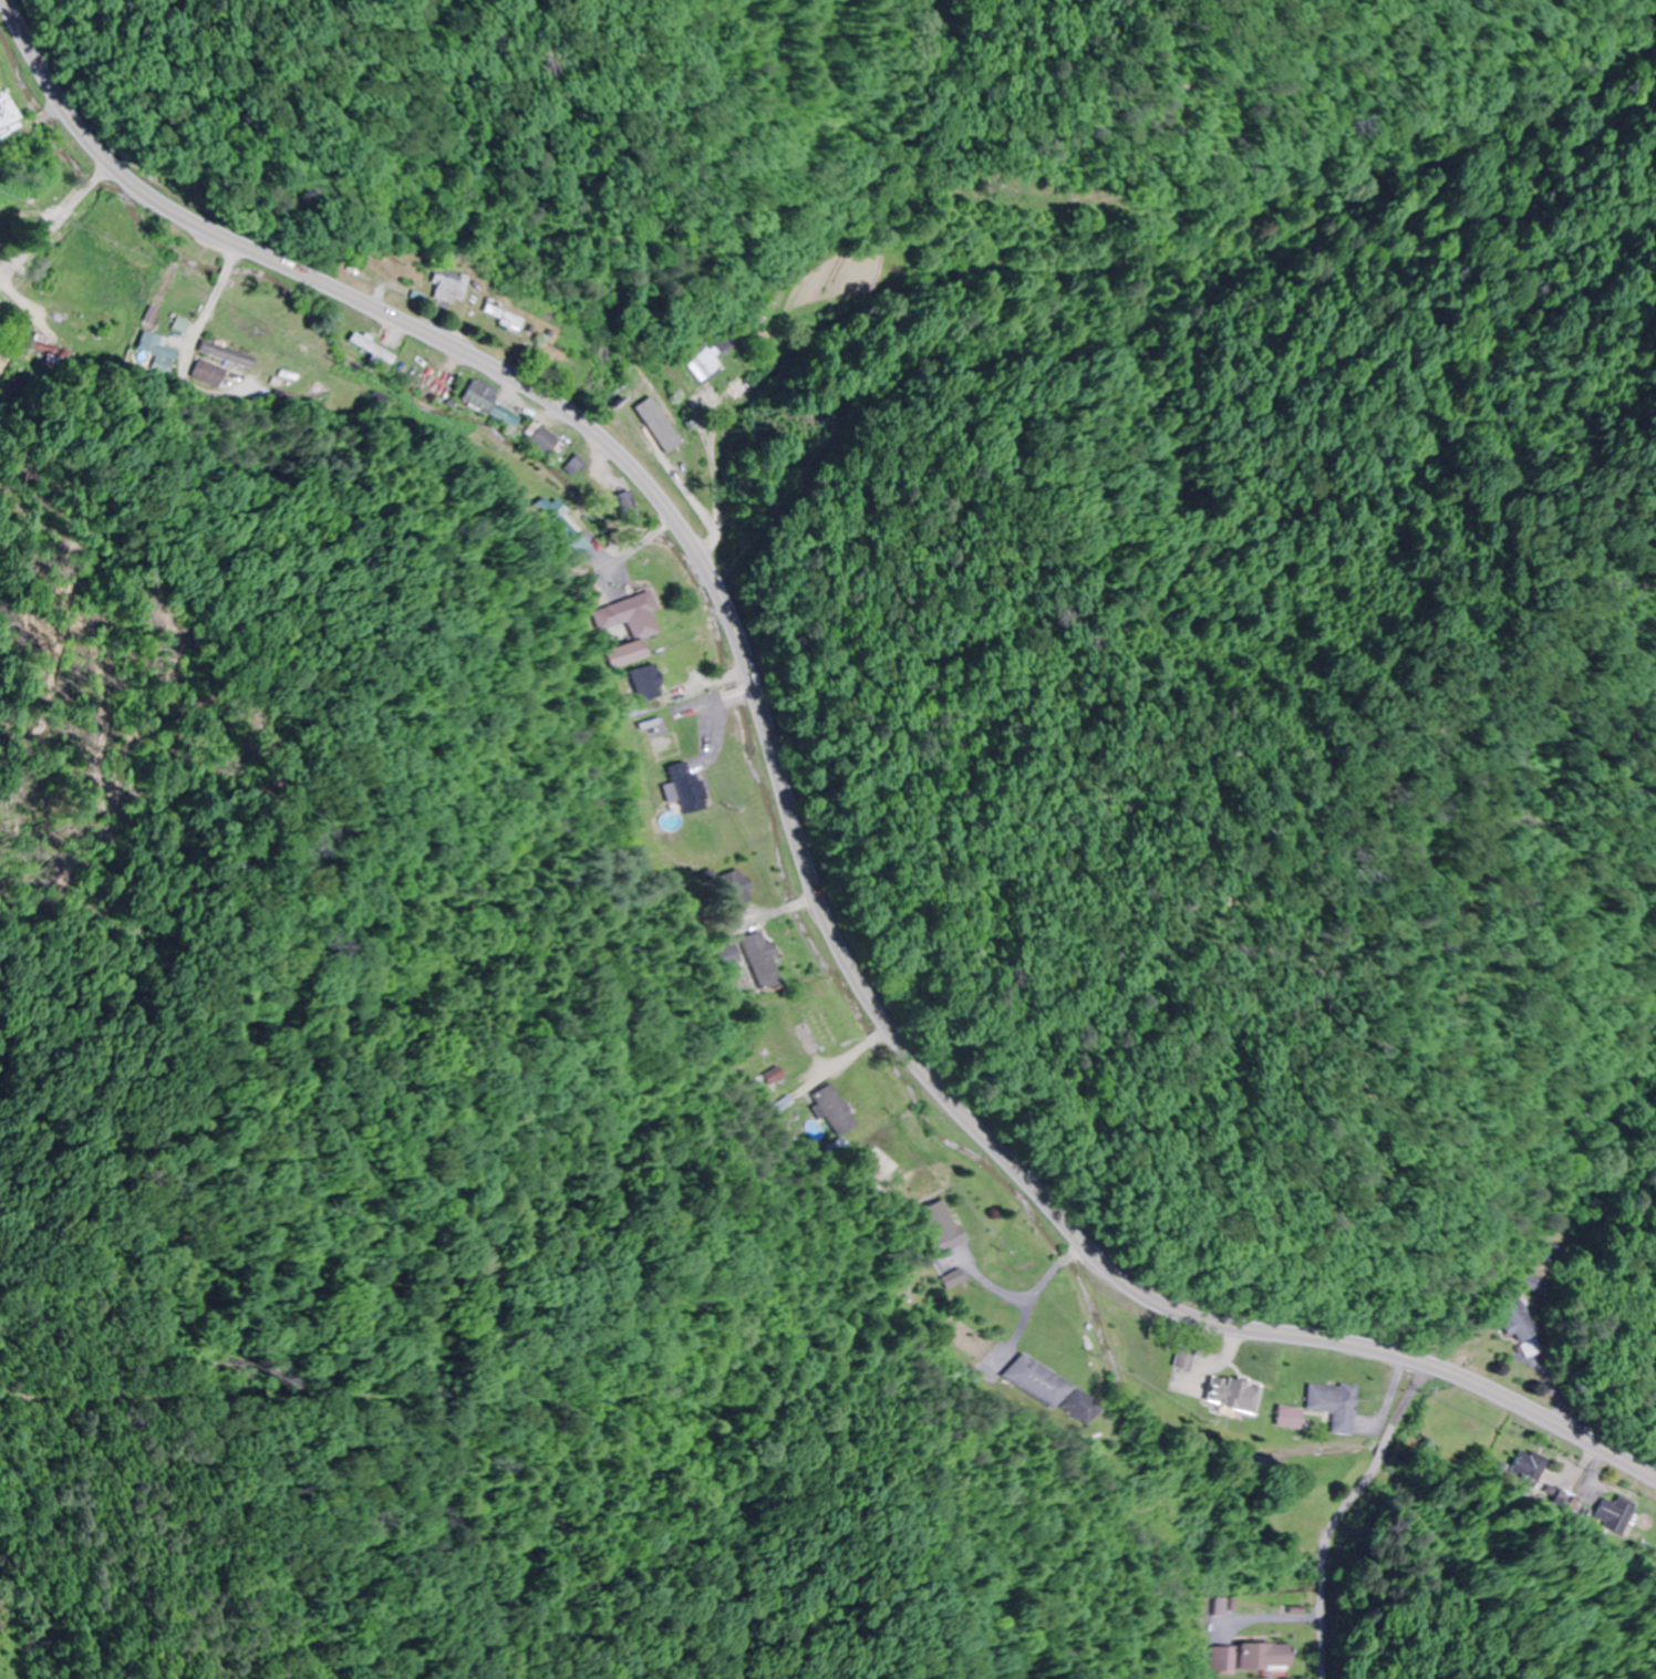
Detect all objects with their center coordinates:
road: (54, 219)
building: (447, 288)
building: (499, 315)
building: (92, 324)
building: (182, 325)
building: (155, 345)
building: (42, 349)
building: (228, 355)
building: (705, 357)
road: (196, 384)
building: (739, 391)
building: (477, 396)
building: (530, 436)
building: (573, 467)
road: (638, 548)
building: (633, 618)
building: (690, 788)
road: (785, 797)
building: (735, 890)
building: (764, 962)
building: (838, 1111)
building: (941, 1227)
building: (1533, 1284)
building: (1514, 1320)
building: (1186, 1359)
building: (1057, 1391)
building: (1232, 1397)
building: (1334, 1407)
building: (1287, 1419)
road: (1343, 1510)
building: (1614, 1516)
building: (1252, 1658)

